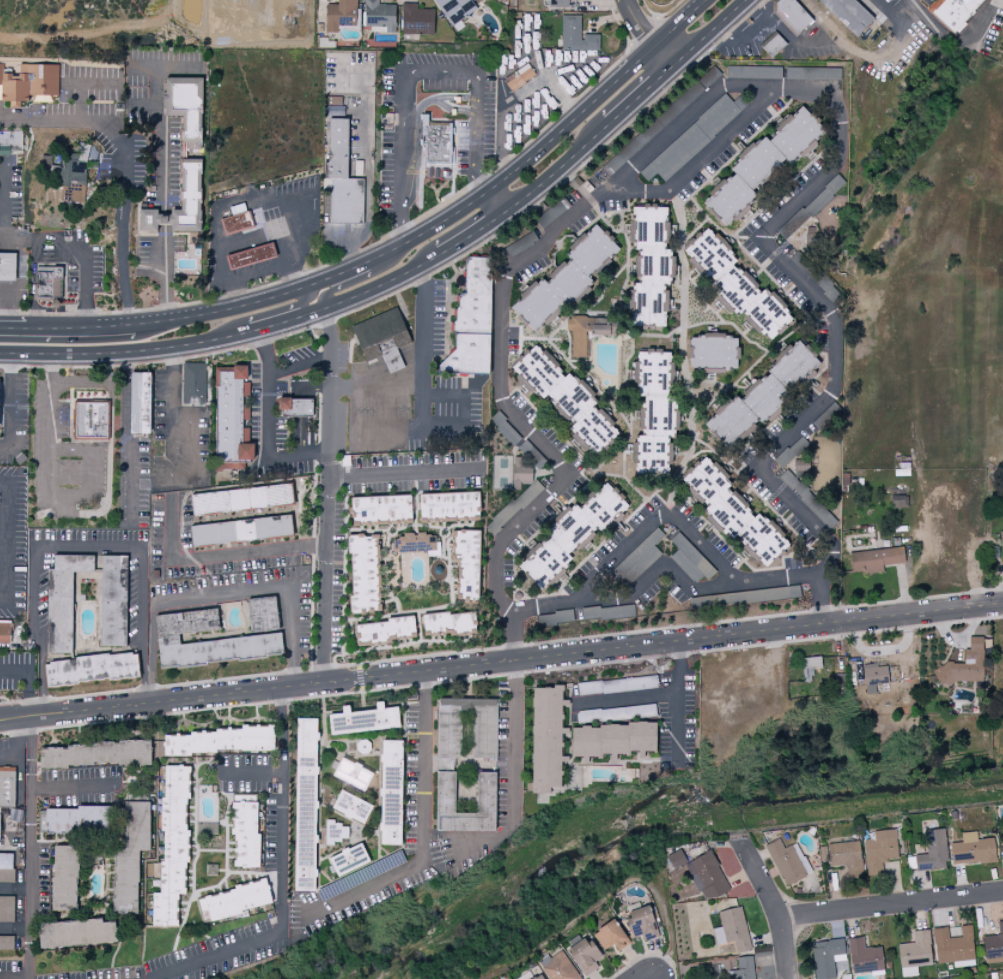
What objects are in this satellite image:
building: (559, 4)
building: (457, 8)
building: (952, 12)
road: (891, 13)
building: (261, 14)
building: (298, 14)
building: (341, 14)
building: (848, 14)
building: (225, 15)
building: (380, 15)
building: (793, 15)
building: (418, 19)
road: (682, 24)
road: (636, 25)
road: (749, 33)
road: (713, 34)
building: (576, 35)
road: (955, 42)
road: (791, 43)
building: (773, 45)
road: (665, 58)
park: (1002, 61)
road: (176, 65)
road: (155, 72)
road: (416, 72)
building: (754, 72)
building: (813, 74)
building: (519, 77)
building: (30, 84)
building: (688, 97)
road: (432, 98)
road: (449, 107)
road: (749, 108)
road: (74, 117)
road: (102, 118)
road: (679, 122)
road: (367, 135)
building: (694, 137)
building: (435, 142)
building: (10, 143)
building: (633, 146)
building: (183, 157)
building: (763, 164)
building: (73, 172)
building: (341, 175)
road: (270, 197)
road: (165, 198)
road: (8, 200)
road: (496, 204)
building: (812, 207)
building: (553, 213)
building: (246, 220)
road: (122, 223)
building: (232, 225)
road: (21, 237)
road: (259, 237)
building: (519, 245)
road: (68, 246)
road: (383, 252)
building: (251, 256)
gas station: (251, 256)
building: (652, 266)
building: (8, 267)
gas station: (8, 267)
road: (291, 276)
road: (22, 277)
building: (816, 277)
building: (568, 278)
road: (32, 279)
road: (357, 283)
building: (49, 284)
building: (735, 284)
road: (370, 290)
road: (85, 297)
road: (6, 311)
road: (266, 314)
building: (473, 322)
road: (12, 328)
road: (39, 328)
building: (589, 331)
building: (381, 335)
building: (714, 350)
road: (418, 356)
road: (281, 367)
road: (78, 381)
road: (171, 381)
road: (377, 383)
building: (193, 385)
building: (763, 394)
building: (567, 397)
building: (0, 402)
road: (300, 402)
road: (8, 404)
building: (140, 404)
building: (297, 406)
building: (655, 409)
building: (91, 421)
building: (231, 421)
building: (505, 429)
road: (422, 431)
road: (385, 432)
road: (126, 437)
road: (110, 447)
road: (267, 448)
building: (532, 455)
building: (522, 471)
park: (501, 473)
road: (406, 475)
road: (195, 479)
road: (331, 495)
building: (243, 498)
building: (451, 504)
road: (50, 507)
building: (383, 507)
building: (514, 507)
building: (734, 510)
road: (652, 525)
building: (243, 529)
building: (572, 532)
building: (1002, 540)
road: (7, 542)
building: (416, 542)
road: (80, 544)
road: (210, 555)
building: (876, 559)
building: (468, 562)
road: (663, 566)
building: (364, 574)
building: (624, 574)
road: (220, 596)
building: (65, 599)
building: (113, 600)
building: (264, 613)
building: (450, 621)
building: (384, 629)
building: (5, 633)
building: (256, 638)
road: (501, 661)
building: (966, 665)
building: (94, 668)
building: (813, 668)
building: (875, 676)
road: (627, 697)
road: (676, 701)
building: (364, 720)
road: (283, 728)
building: (466, 730)
building: (548, 738)
building: (615, 739)
building: (223, 740)
building: (363, 747)
road: (15, 748)
building: (97, 754)
road: (30, 759)
building: (353, 774)
parking lot: (410, 779)
building: (8, 788)
building: (488, 792)
building: (391, 793)
building: (306, 804)
road: (513, 805)
building: (352, 807)
building: (1, 819)
building: (75, 820)
road: (421, 829)
building: (335, 833)
building: (247, 835)
building: (174, 846)
building: (881, 850)
building: (975, 850)
building: (931, 852)
building: (847, 856)
building: (677, 857)
building: (132, 858)
building: (349, 860)
building: (6, 861)
building: (787, 862)
building: (7, 875)
building: (707, 876)
building: (66, 878)
road: (28, 884)
road: (281, 884)
parking lot: (407, 884)
road: (605, 894)
building: (237, 900)
road: (771, 906)
road: (890, 907)
building: (7, 909)
building: (642, 924)
building: (733, 929)
road: (14, 930)
building: (78, 933)
building: (611, 936)
building: (6, 943)
building: (954, 947)
building: (915, 953)
building: (584, 956)
building: (865, 956)
building: (827, 957)
building: (560, 968)
building: (745, 968)
road: (9, 976)
building: (534, 978)
building: (539, 978)
road: (655, 978)

